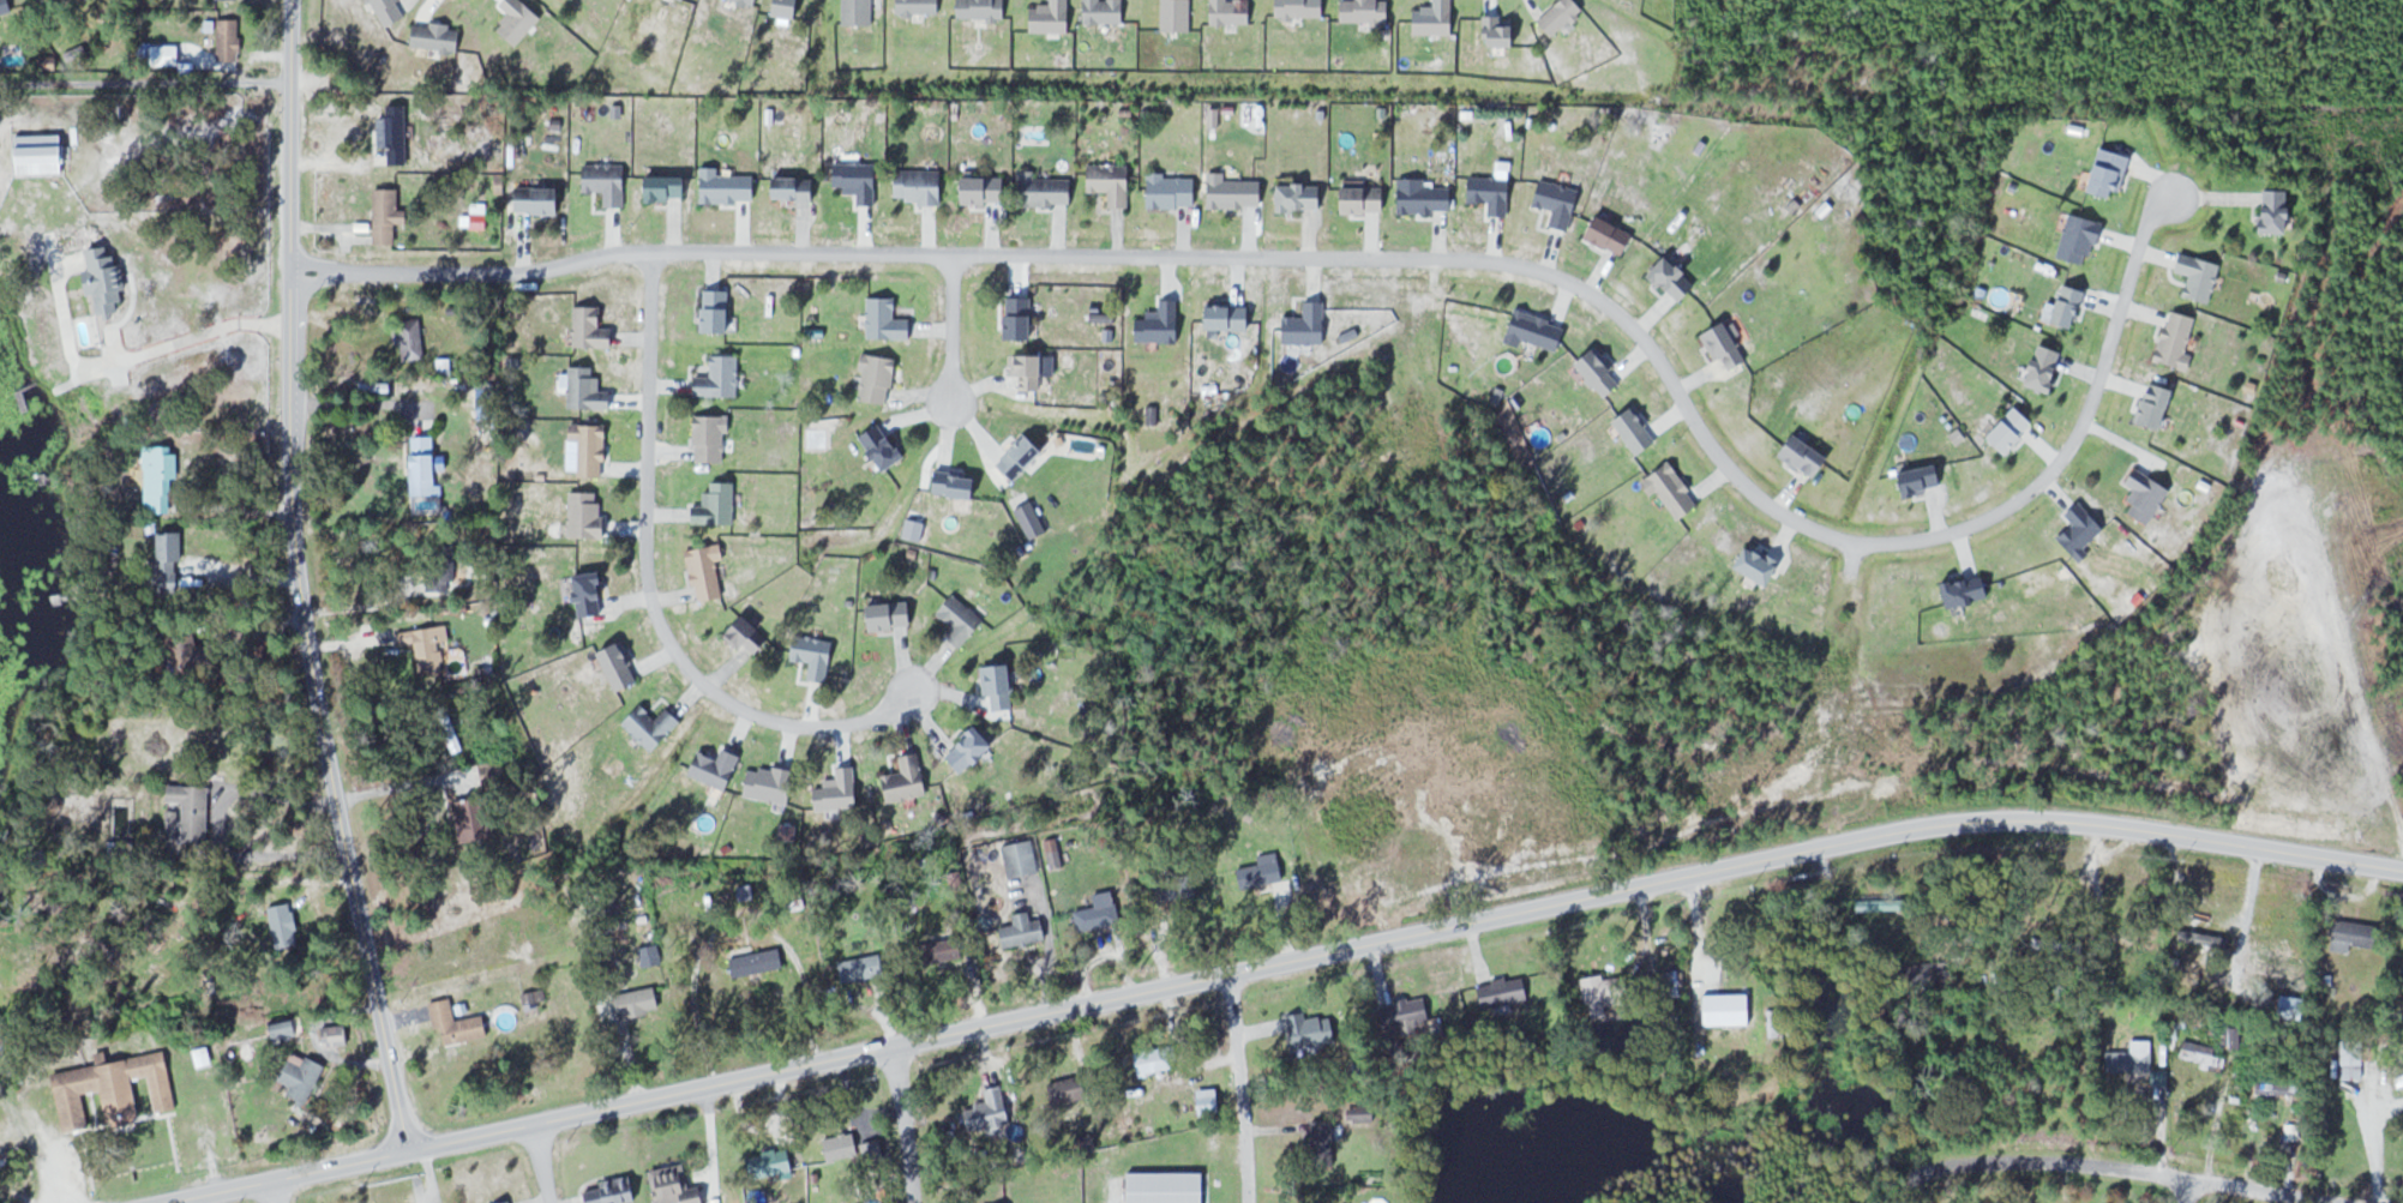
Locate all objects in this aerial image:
building: (43, 0)
building: (59, 1)
building: (5, 6)
building: (229, 38)
building: (158, 53)
road: (144, 80)
building: (396, 133)
building: (41, 154)
building: (2111, 172)
building: (859, 180)
building: (607, 181)
building: (1111, 181)
building: (727, 186)
building: (920, 186)
building: (668, 187)
building: (795, 187)
building: (986, 188)
building: (1046, 188)
building: (1173, 191)
building: (1234, 191)
building: (1492, 193)
building: (1304, 197)
building: (1424, 197)
building: (540, 199)
building: (1364, 199)
building: (1558, 201)
building: (2279, 211)
building: (388, 215)
building: (1612, 234)
building: (2081, 239)
road: (1390, 257)
building: (2199, 276)
building: (1675, 277)
building: (107, 279)
building: (2072, 306)
building: (719, 311)
building: (1021, 318)
building: (1230, 318)
building: (888, 320)
building: (1160, 324)
building: (1308, 325)
road: (950, 326)
building: (593, 329)
building: (1537, 331)
building: (2177, 338)
building: (413, 339)
building: (1726, 345)
building: (2048, 368)
building: (1032, 372)
building: (1602, 373)
building: (721, 377)
building: (878, 379)
building: (588, 390)
building: (2158, 405)
building: (2012, 429)
building: (1639, 431)
building: (711, 438)
building: (885, 446)
building: (591, 449)
building: (1808, 456)
building: (1022, 458)
building: (423, 468)
building: (161, 480)
building: (1923, 481)
building: (956, 485)
building: (1672, 491)
building: (2147, 495)
building: (717, 505)
building: (587, 515)
building: (1033, 519)
building: (2081, 530)
building: (170, 561)
building: (1762, 565)
building: (708, 571)
road: (299, 579)
building: (1970, 590)
road: (649, 591)
building: (591, 593)
building: (891, 615)
building: (961, 619)
building: (750, 636)
building: (421, 645)
building: (196, 655)
building: (815, 655)
building: (621, 667)
building: (1002, 685)
building: (653, 726)
building: (971, 748)
building: (716, 766)
building: (494, 771)
building: (907, 778)
building: (770, 782)
building: (840, 790)
building: (188, 812)
building: (475, 817)
building: (1053, 853)
building: (1272, 866)
building: (1101, 909)
building: (286, 925)
building: (1026, 930)
building: (2355, 933)
building: (949, 948)
building: (758, 961)
building: (1722, 963)
road: (1278, 964)
building: (864, 967)
building: (2402, 972)
building: (1610, 988)
building: (1506, 991)
building: (639, 1002)
building: (1406, 1011)
building: (458, 1023)
building: (1777, 1023)
building: (1311, 1029)
building: (335, 1034)
building: (2234, 1035)
building: (2, 1036)
building: (2203, 1053)
building: (1159, 1058)
building: (2354, 1058)
building: (2135, 1063)
building: (302, 1075)
building: (2285, 1079)
building: (2398, 1081)
building: (113, 1087)
road: (1242, 1088)
building: (1069, 1089)
building: (1209, 1100)
building: (993, 1108)
building: (1363, 1112)
road: (905, 1124)
building: (1324, 1132)
building: (876, 1150)
building: (773, 1162)
road: (543, 1165)
road: (2129, 1173)
building: (675, 1185)
building: (1166, 1186)
road: (276, 1191)
building: (614, 1191)
road: (2173, 1192)
building: (504, 1202)

